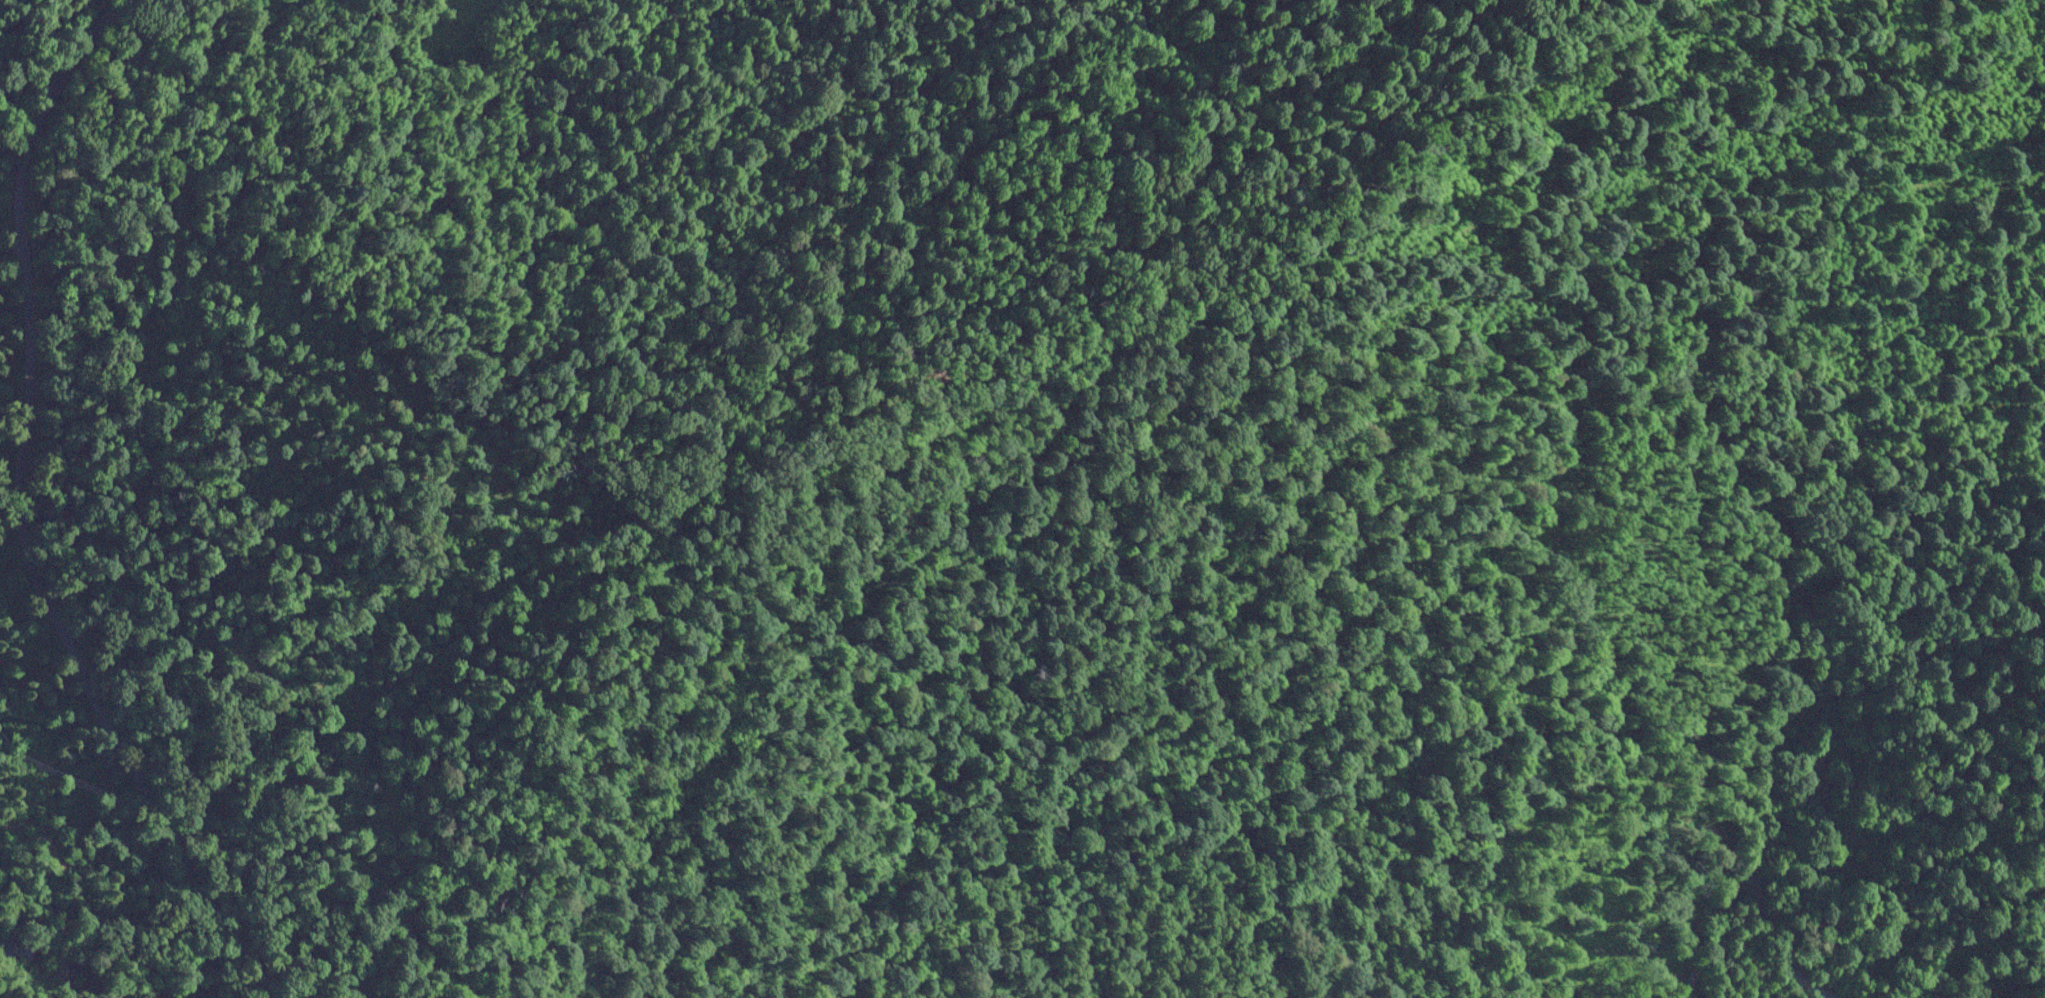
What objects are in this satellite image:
road: (19, 185)
road: (122, 732)
road: (1630, 987)

